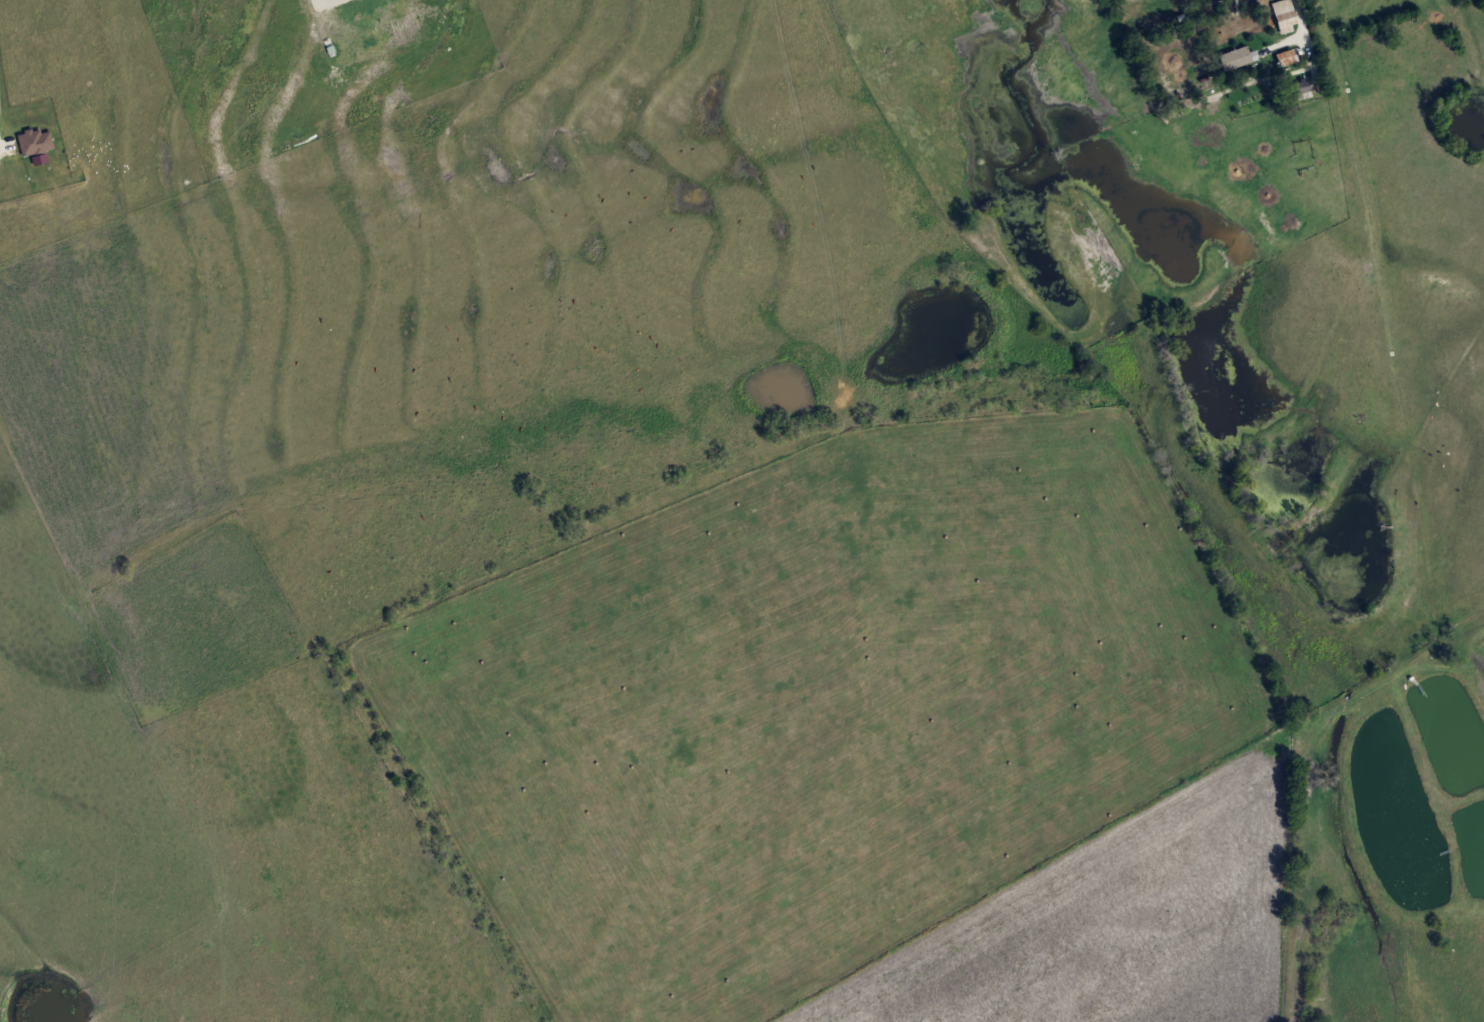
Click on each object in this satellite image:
building: (1285, 14)
building: (1236, 58)
building: (1288, 58)
building: (1302, 88)
building: (38, 140)

